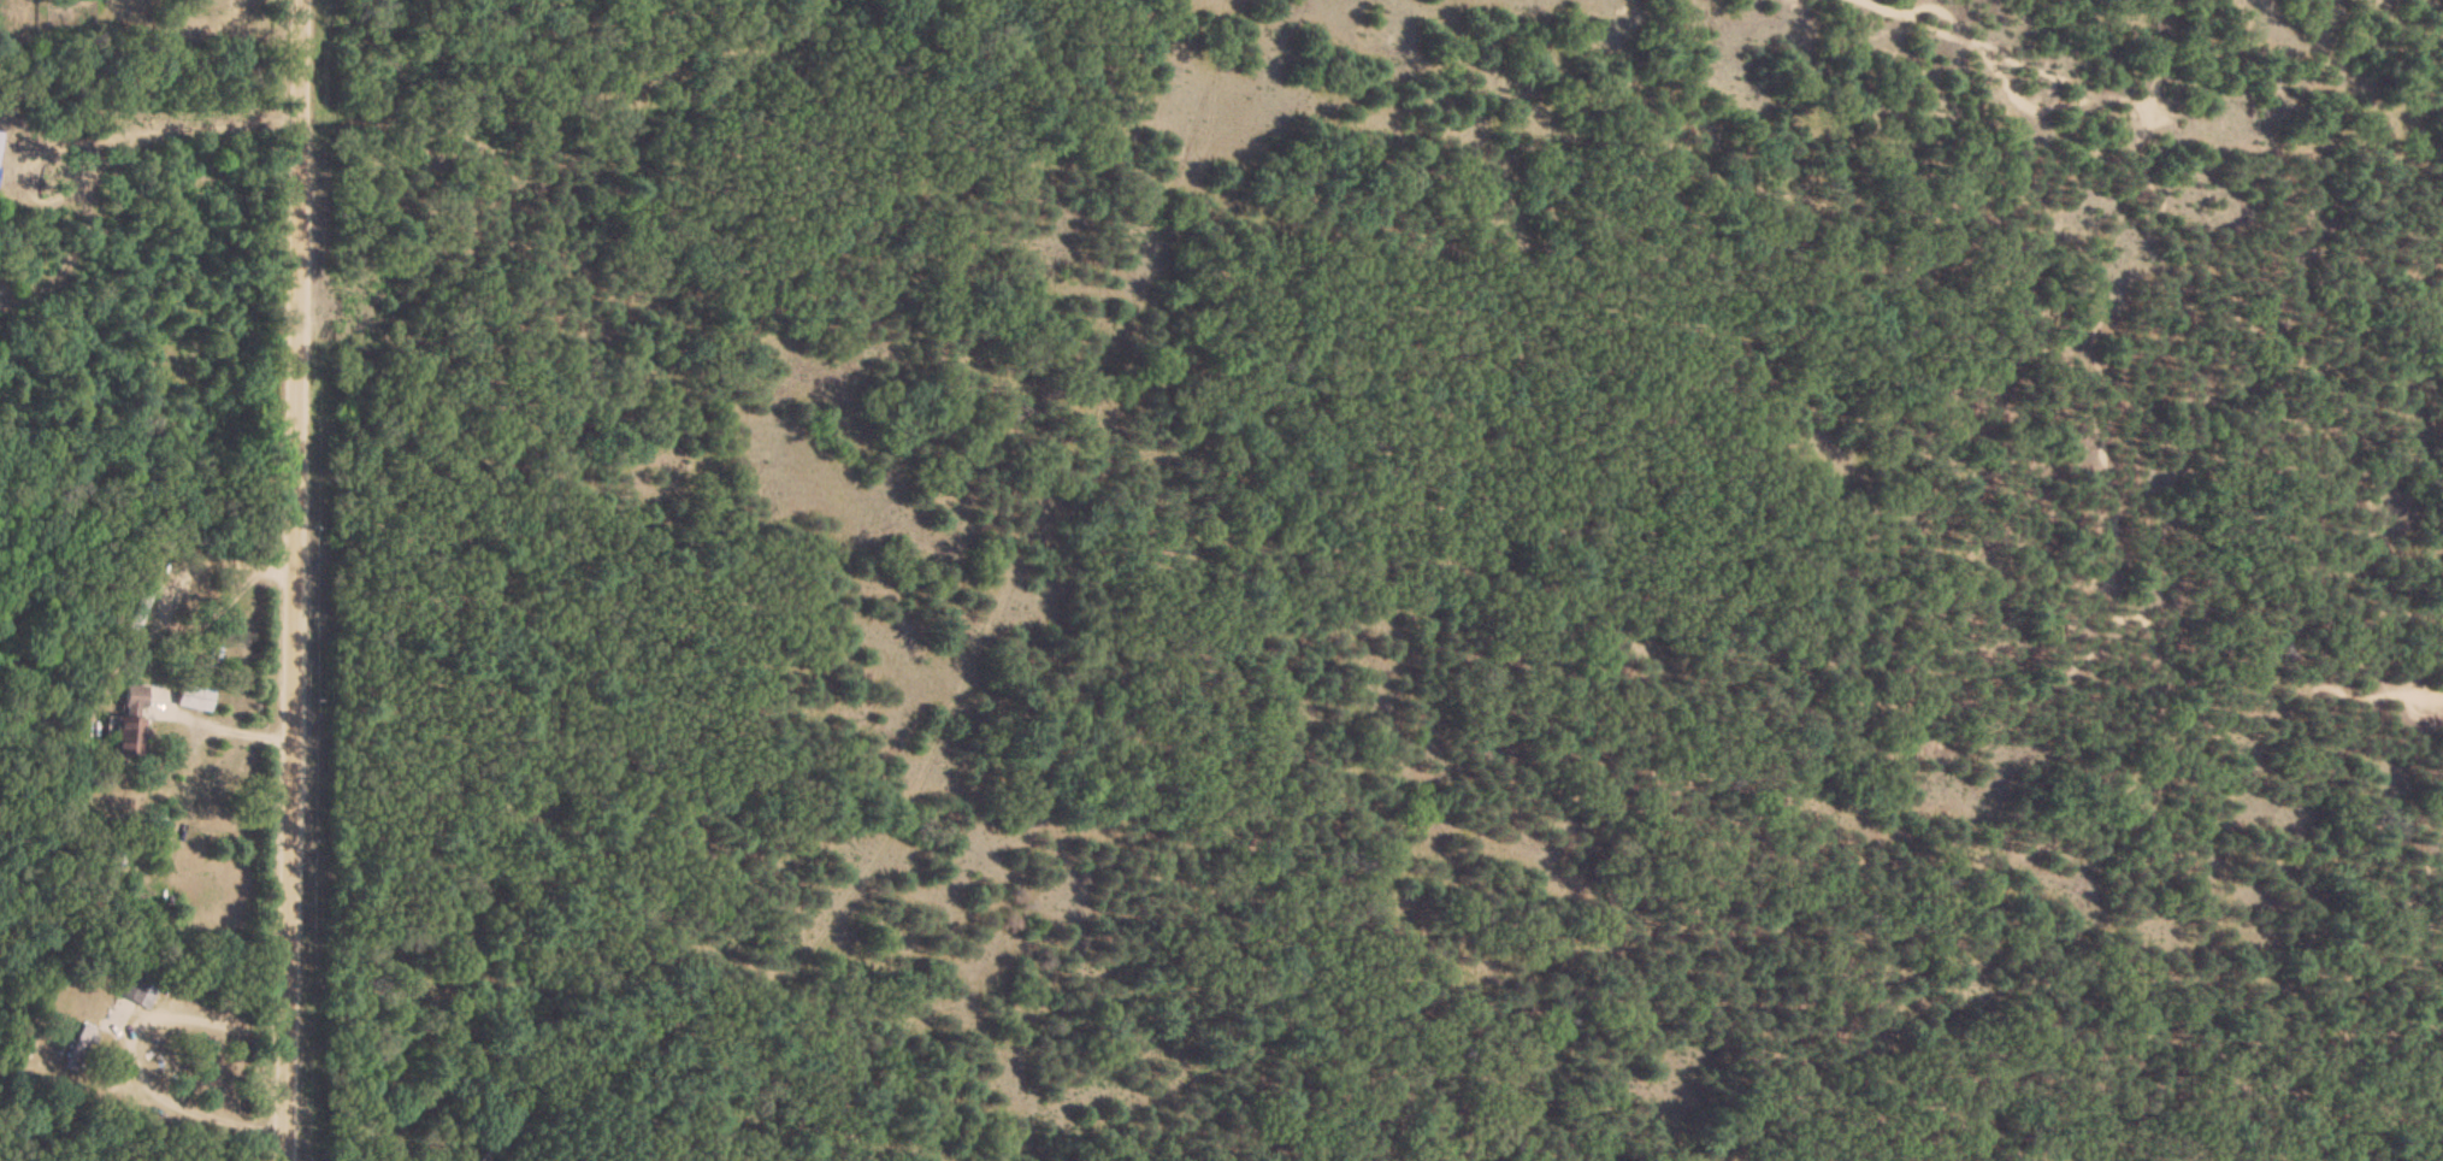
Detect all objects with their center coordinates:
road: (83, 134)
building: (0, 141)
road: (294, 580)
building: (142, 605)
building: (191, 701)
road: (220, 721)
building: (126, 727)
building: (119, 859)
building: (137, 994)
building: (84, 1041)
road: (130, 1049)

